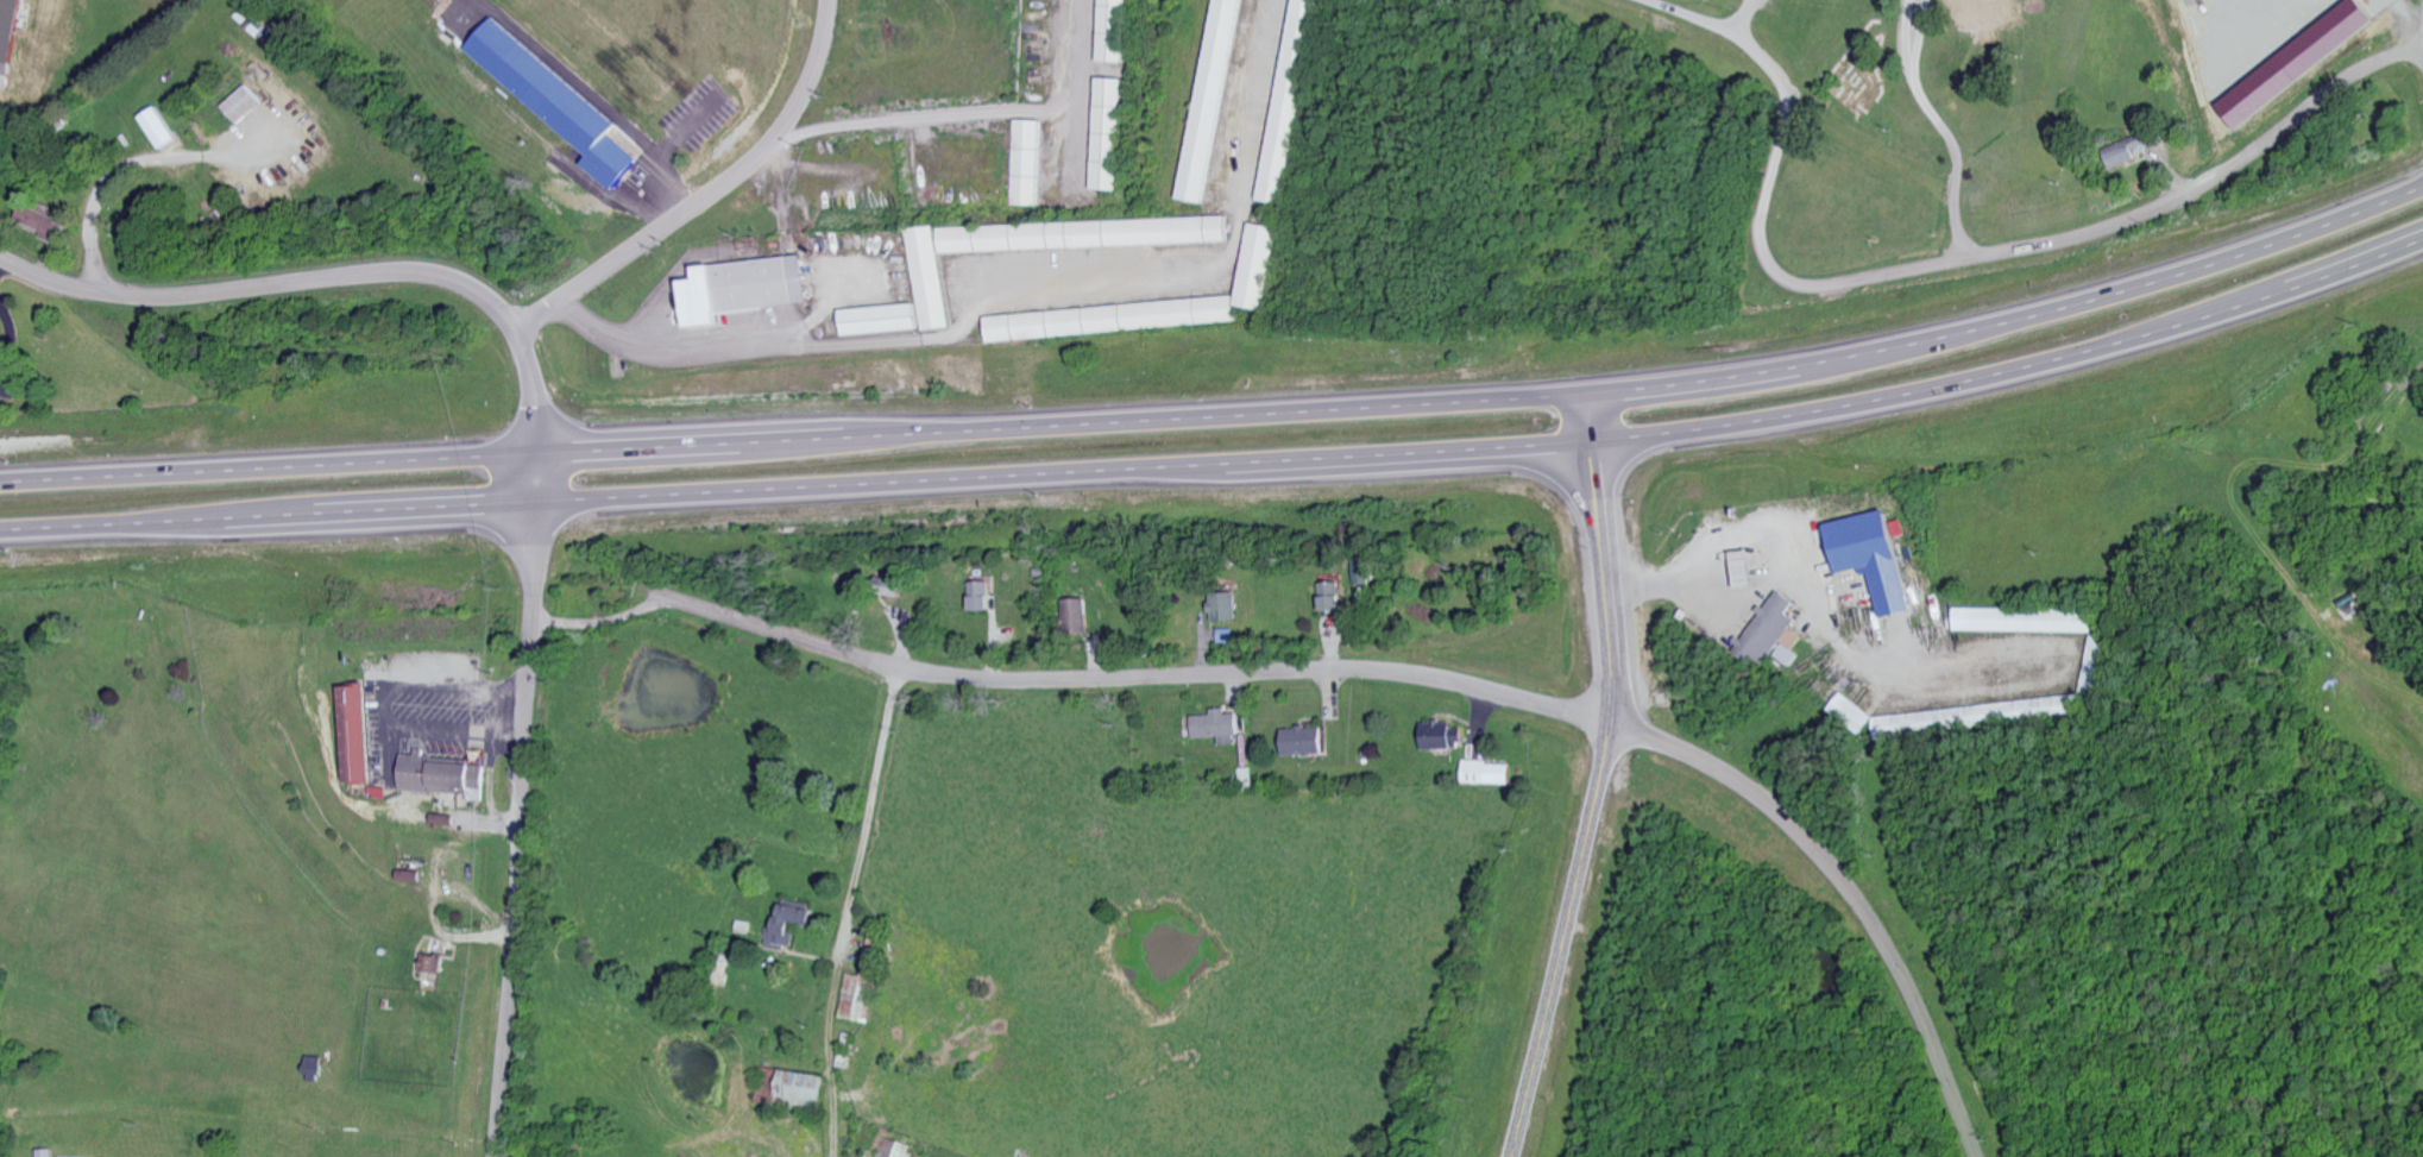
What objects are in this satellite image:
building: (1988, 11)
road: (1743, 19)
building: (1113, 31)
building: (10, 33)
building: (2331, 39)
building: (474, 81)
building: (1211, 101)
building: (1290, 101)
building: (556, 102)
road: (971, 112)
road: (1943, 126)
building: (158, 130)
building: (1108, 136)
building: (2127, 152)
building: (1026, 164)
road: (117, 172)
road: (2203, 184)
road: (706, 190)
road: (1768, 190)
building: (44, 224)
building: (1087, 235)
building: (929, 266)
building: (1255, 268)
road: (999, 270)
road: (346, 273)
building: (745, 289)
building: (1110, 320)
road: (1225, 413)
road: (1223, 464)
road: (1601, 557)
building: (1877, 559)
road: (1813, 593)
building: (981, 598)
building: (1335, 598)
building: (1223, 608)
building: (1077, 616)
building: (2024, 622)
building: (1774, 634)
building: (1226, 637)
road: (1068, 681)
road: (459, 690)
road: (389, 710)
building: (1852, 715)
building: (1217, 728)
road: (457, 735)
building: (355, 736)
building: (1441, 736)
building: (1308, 743)
building: (1491, 774)
building: (440, 775)
road: (520, 823)
road: (1846, 892)
road: (848, 911)
building: (791, 925)
road: (1562, 941)
building: (433, 967)
building: (858, 996)
building: (794, 1092)
building: (43, 1153)

